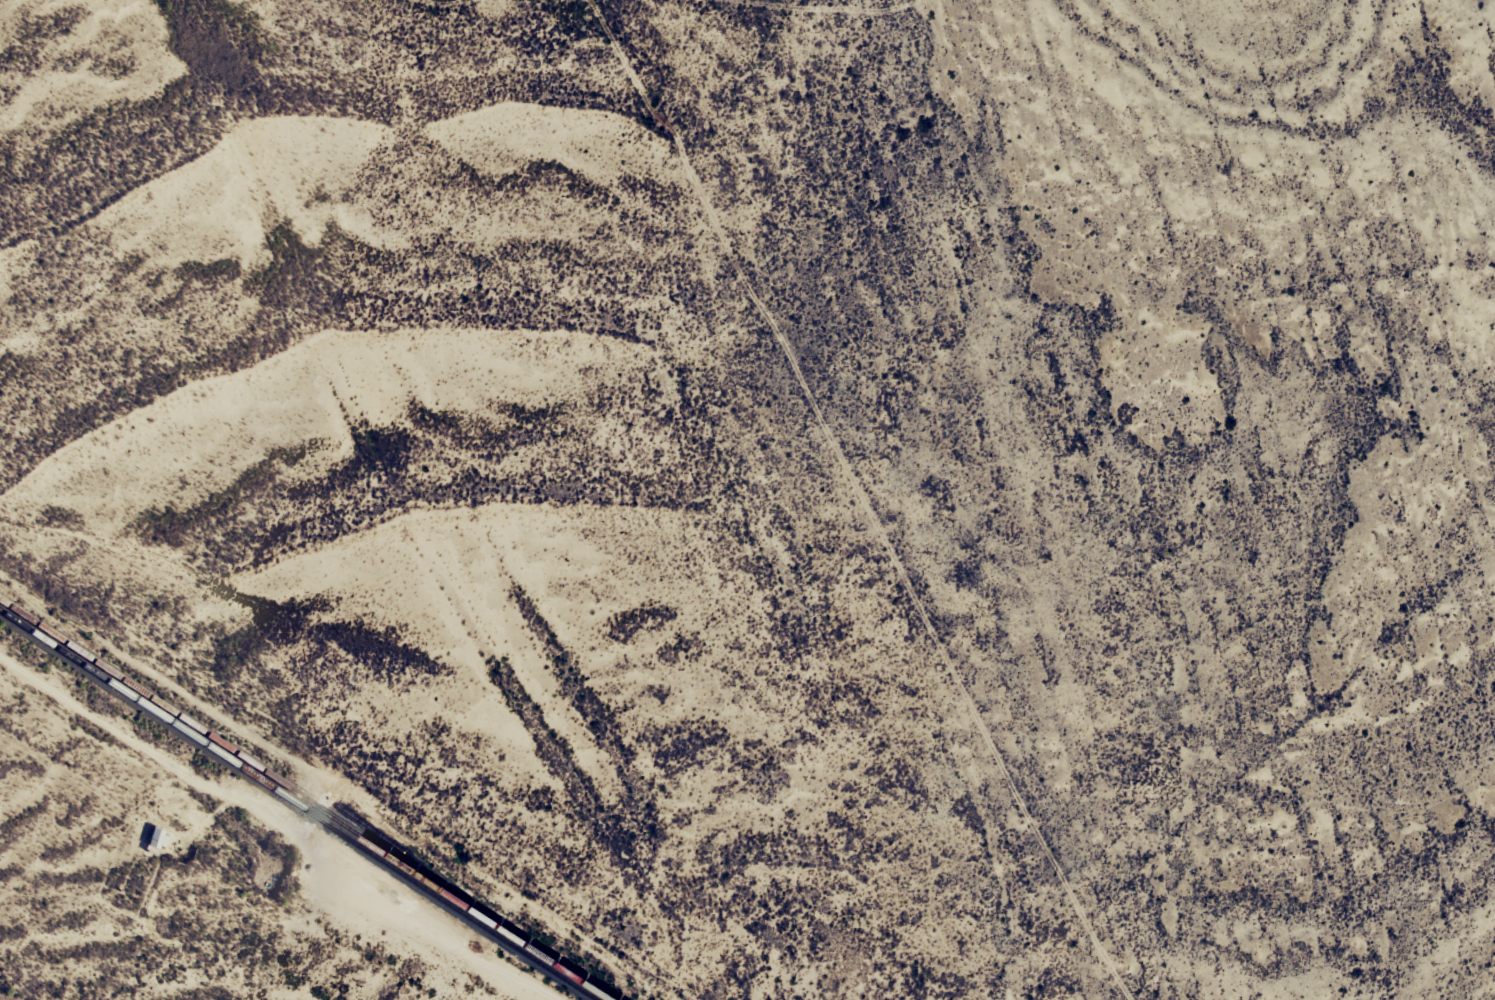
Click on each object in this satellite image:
railway: (307, 802)
railway: (299, 808)
building: (155, 841)

